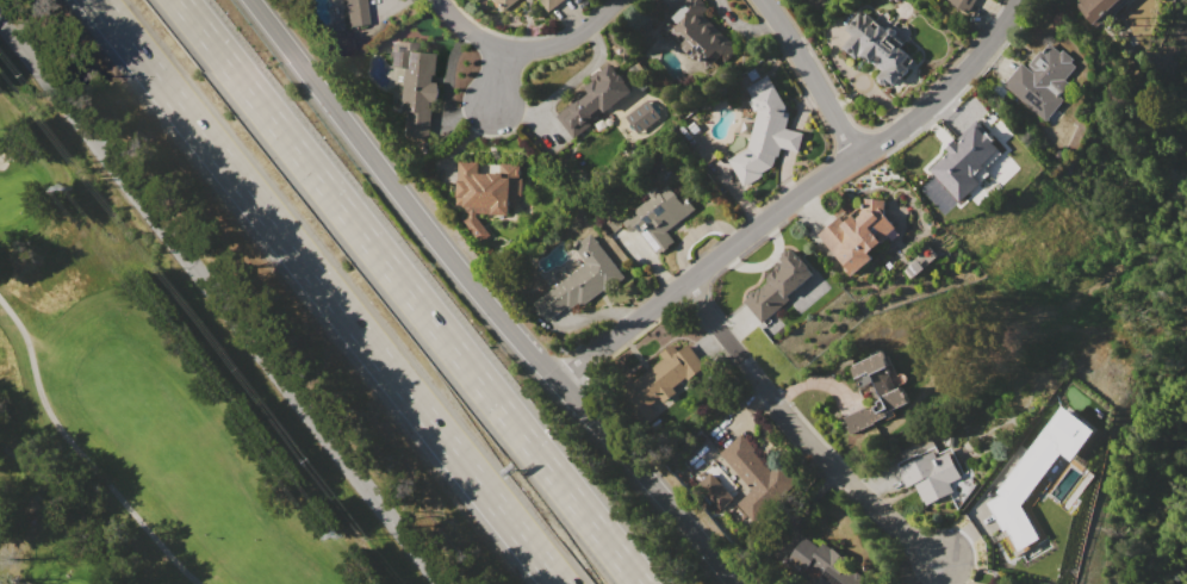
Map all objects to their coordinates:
building: (890, 0)
building: (896, 0)
building: (499, 4)
building: (549, 4)
building: (961, 5)
building: (1096, 8)
building: (355, 12)
building: (698, 33)
building: (877, 48)
road: (528, 50)
road: (812, 75)
building: (1040, 80)
road: (503, 82)
building: (416, 86)
building: (595, 100)
building: (644, 116)
building: (764, 132)
building: (962, 164)
power tower: (68, 187)
building: (486, 193)
park: (15, 195)
road: (794, 197)
building: (658, 217)
building: (857, 234)
building: (578, 280)
building: (778, 285)
road: (327, 292)
road: (408, 292)
road: (485, 298)
road: (211, 307)
building: (663, 375)
park: (151, 390)
building: (875, 390)
road: (802, 433)
road: (80, 451)
building: (1036, 472)
building: (931, 476)
building: (757, 477)
building: (714, 490)
power tower: (341, 534)
building: (826, 564)
park: (60, 577)
building: (995, 583)
building: (998, 583)

